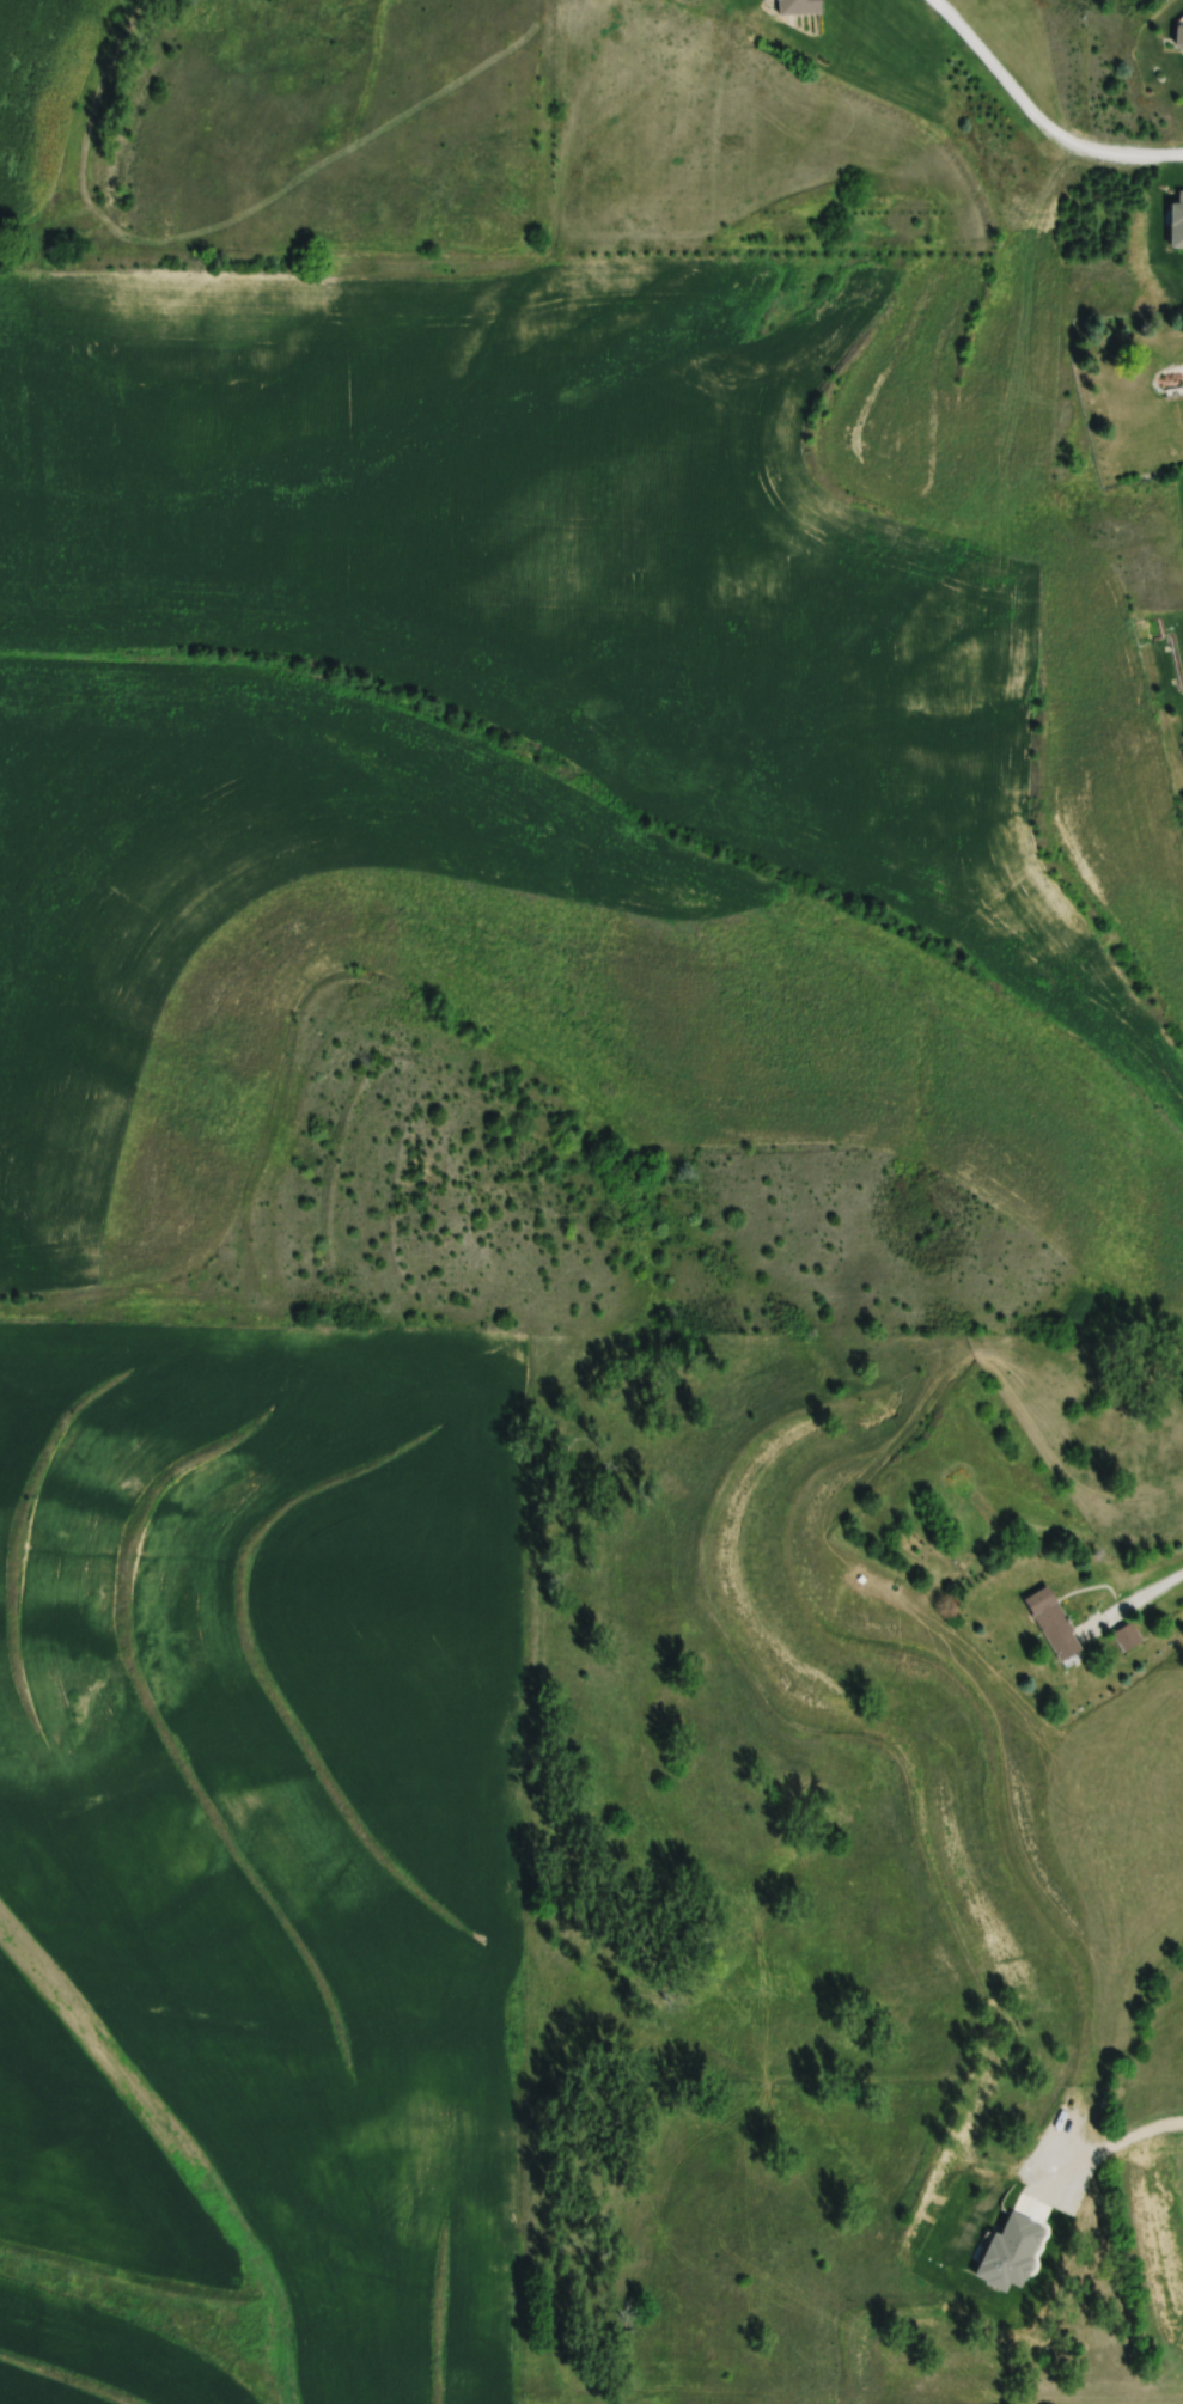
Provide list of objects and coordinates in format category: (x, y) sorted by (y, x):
building: (798, 6)
road: (1037, 117)
road: (1134, 1599)
building: (1054, 1623)
building: (1129, 1637)
road: (1104, 2143)

